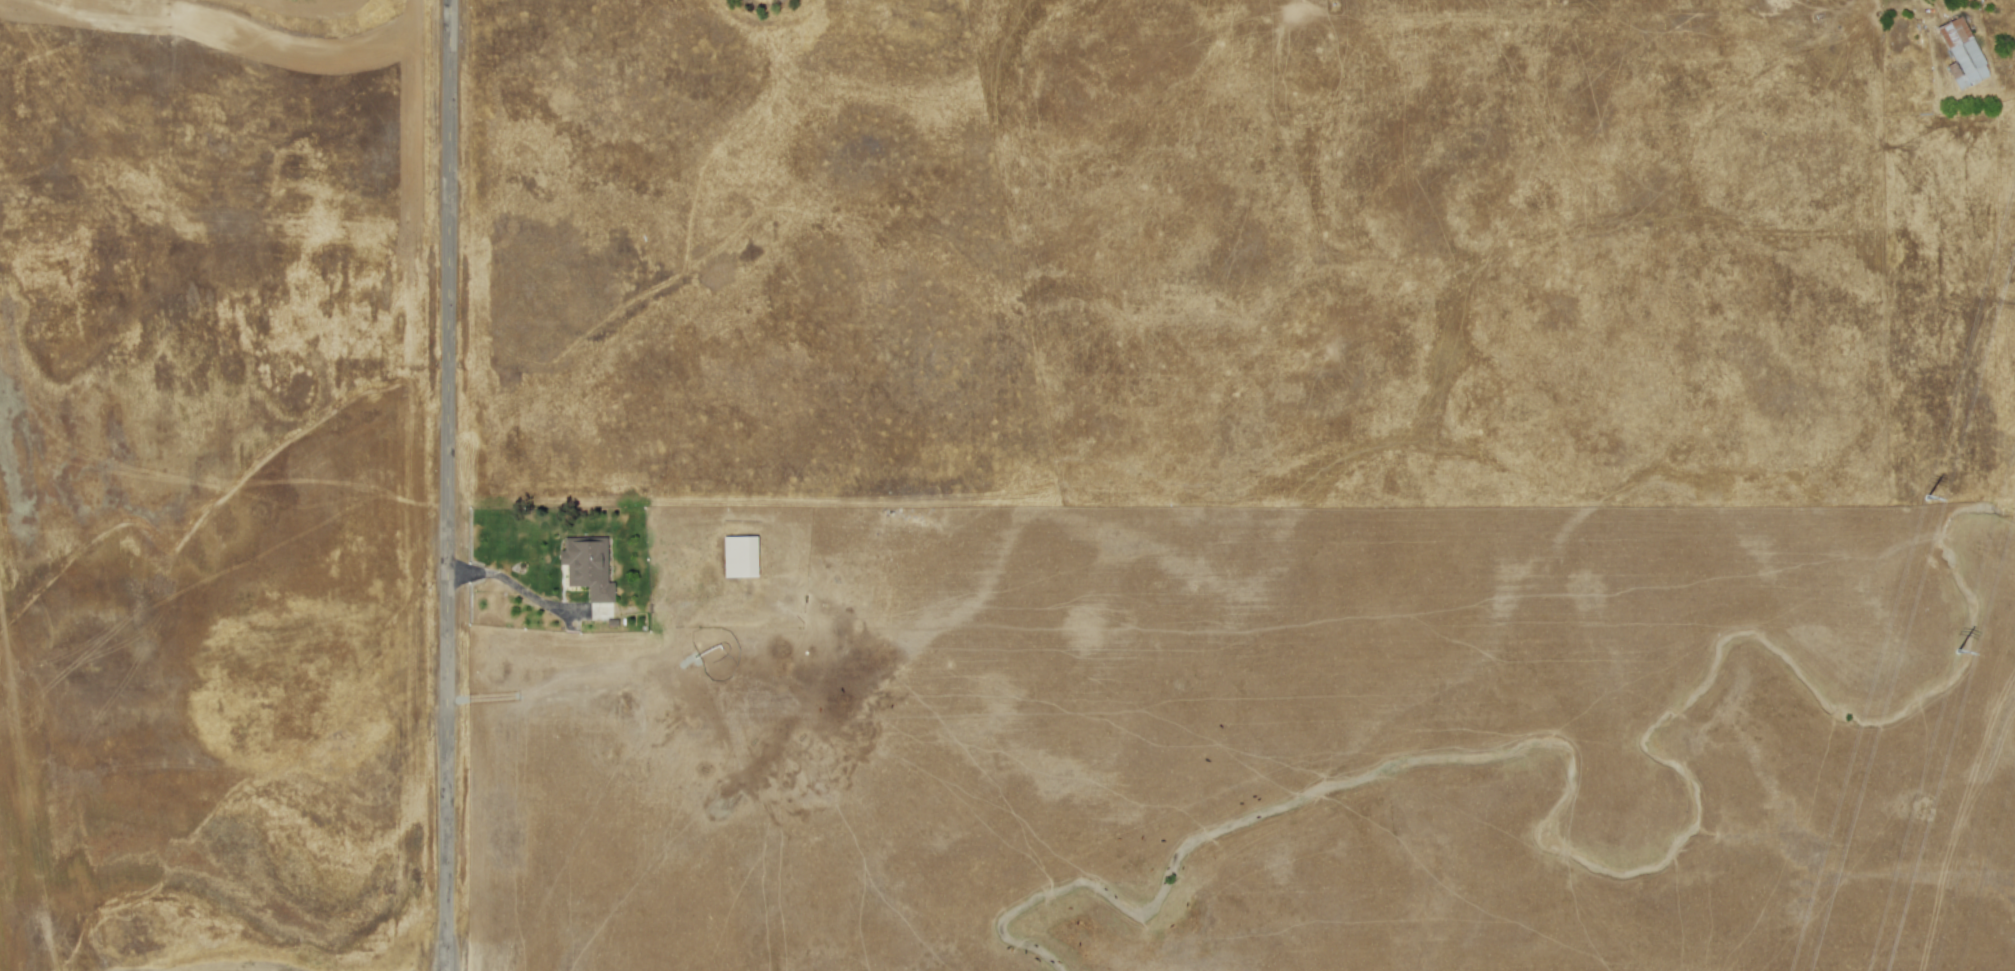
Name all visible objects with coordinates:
building: (1961, 53)
road: (449, 485)
building: (739, 556)
building: (586, 566)
road: (526, 592)

